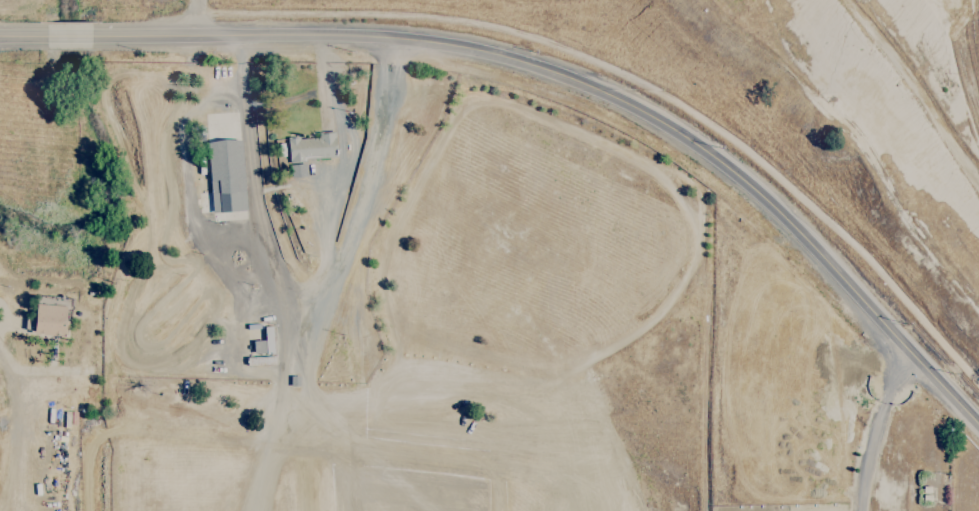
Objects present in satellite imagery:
road: (193, 20)
road: (553, 78)
quarry: (903, 98)
building: (308, 151)
road: (342, 156)
building: (225, 176)
road: (365, 191)
road: (253, 200)
quarry: (371, 306)
building: (49, 320)
building: (263, 343)
road: (879, 431)

